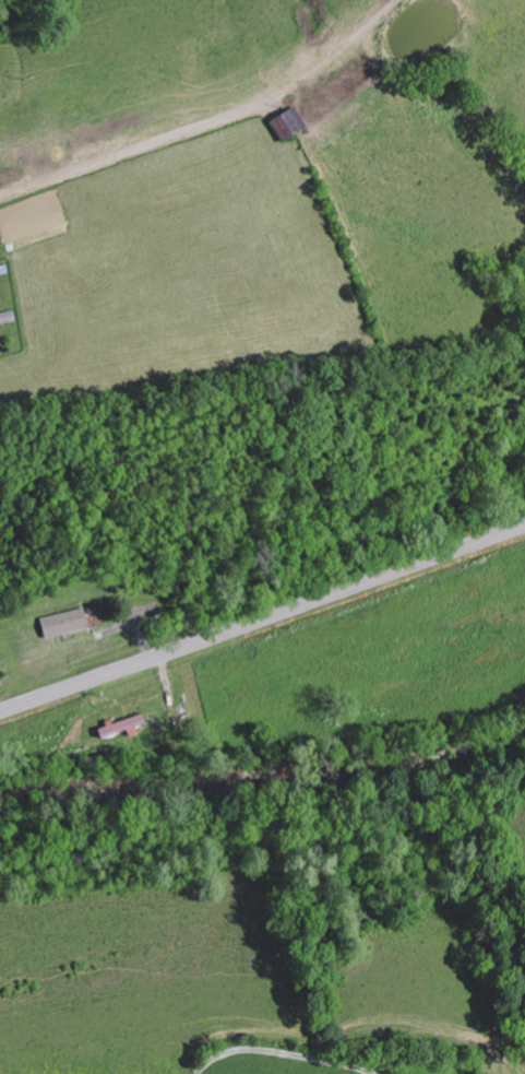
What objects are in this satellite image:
road: (496, 604)
building: (70, 622)
road: (262, 623)
river: (264, 777)
road: (285, 1054)

